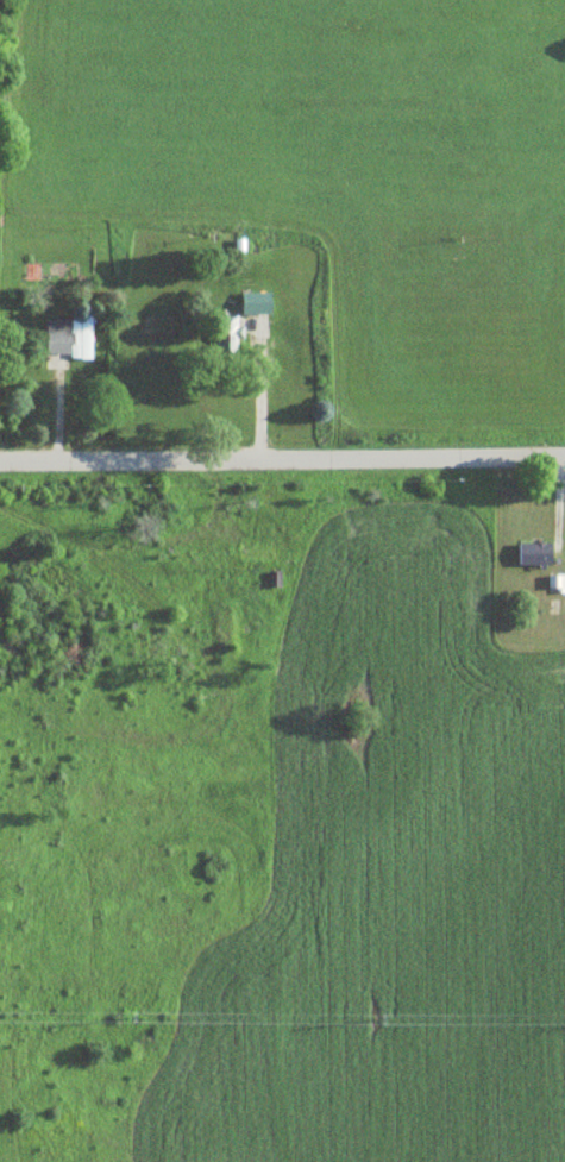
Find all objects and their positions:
building: (252, 303)
building: (64, 338)
road: (282, 459)
building: (532, 554)
building: (271, 579)

